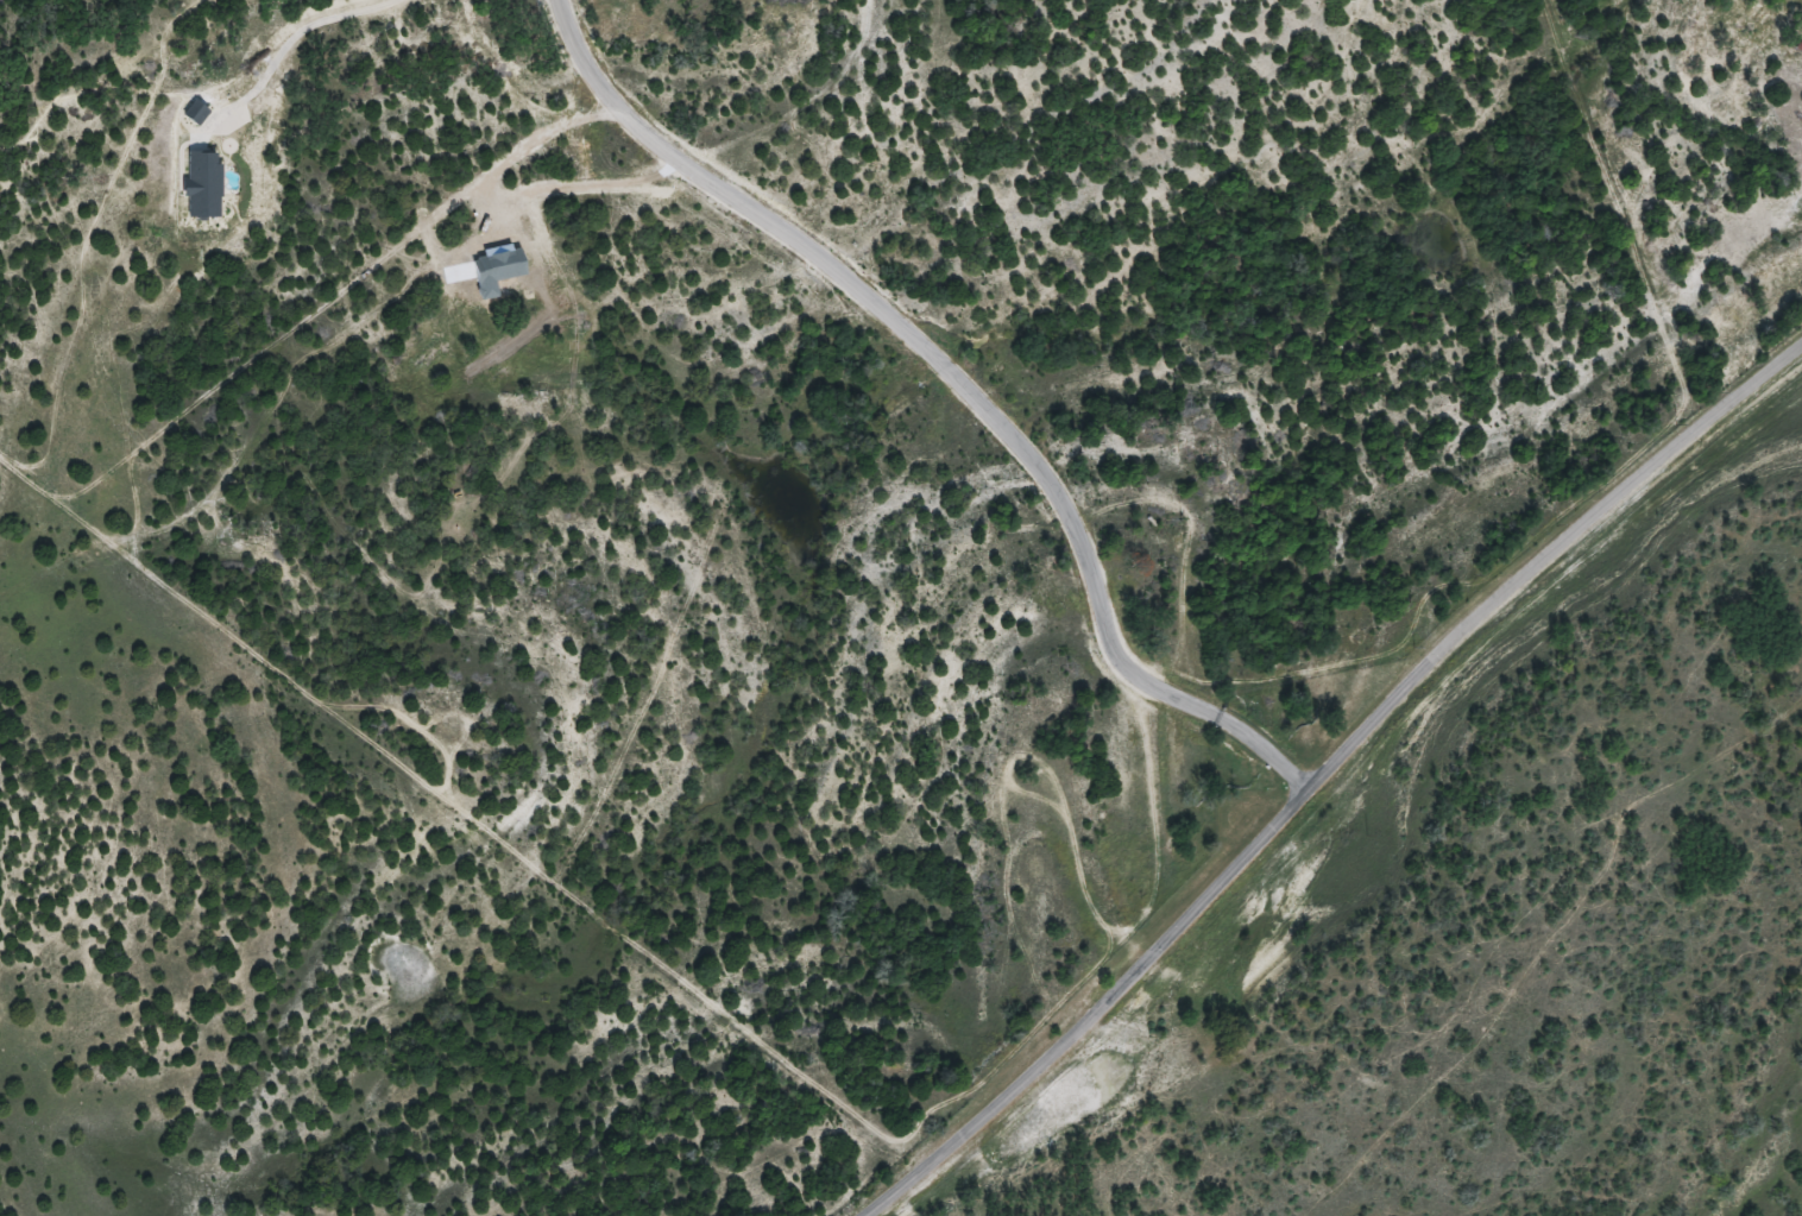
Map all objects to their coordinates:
road: (300, 31)
road: (960, 384)
road: (1329, 780)

